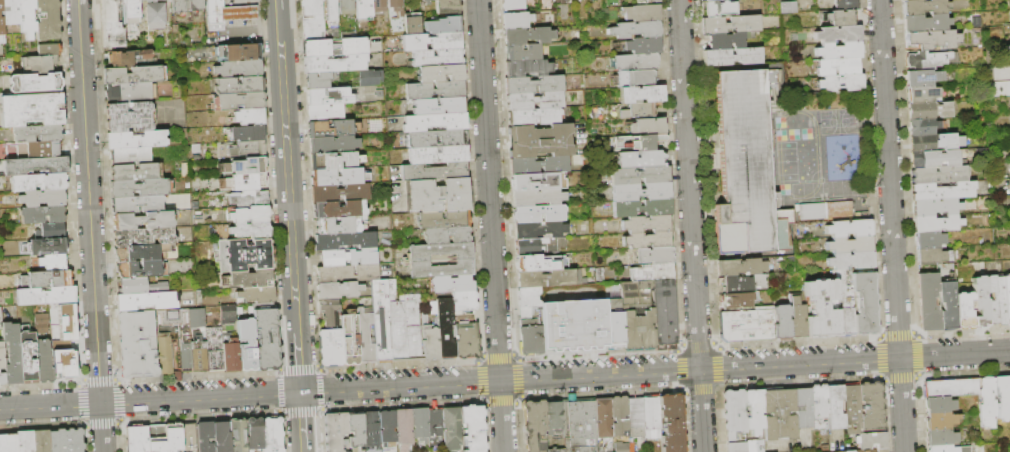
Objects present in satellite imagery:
building: (149, 0)
building: (527, 0)
building: (538, 0)
building: (592, 0)
building: (715, 0)
building: (561, 1)
building: (580, 1)
building: (649, 1)
building: (427, 2)
road: (277, 5)
building: (511, 5)
building: (846, 5)
building: (187, 6)
building: (379, 6)
building: (396, 6)
building: (447, 6)
building: (785, 6)
building: (347, 7)
building: (925, 7)
building: (718, 8)
building: (311, 9)
building: (363, 9)
building: (331, 10)
building: (12, 12)
building: (1009, 12)
building: (229, 13)
building: (641, 13)
building: (131, 14)
building: (156, 16)
building: (28, 18)
building: (842, 18)
building: (2, 19)
building: (48, 20)
building: (516, 20)
building: (926, 23)
building: (111, 24)
building: (732, 24)
building: (314, 25)
building: (413, 25)
building: (444, 26)
building: (635, 30)
building: (839, 34)
building: (314, 35)
building: (528, 36)
building: (728, 40)
building: (931, 41)
building: (432, 42)
building: (641, 45)
building: (335, 48)
building: (1008, 49)
building: (49, 50)
building: (839, 51)
building: (240, 52)
building: (523, 53)
building: (129, 57)
building: (732, 57)
building: (437, 58)
building: (929, 60)
building: (634, 62)
building: (334, 64)
building: (39, 65)
building: (838, 67)
building: (527, 68)
building: (239, 69)
building: (440, 73)
building: (134, 75)
building: (370, 78)
building: (635, 78)
building: (926, 78)
building: (318, 81)
building: (35, 83)
building: (841, 83)
building: (534, 84)
building: (239, 86)
building: (999, 87)
building: (435, 90)
building: (131, 92)
building: (642, 94)
building: (922, 94)
building: (329, 97)
building: (239, 101)
building: (535, 101)
building: (439, 106)
building: (32, 110)
building: (642, 110)
building: (929, 110)
building: (325, 112)
building: (249, 116)
building: (130, 117)
building: (535, 117)
building: (435, 122)
building: (648, 126)
building: (924, 127)
building: (331, 129)
building: (37, 133)
building: (248, 133)
building: (136, 140)
building: (419, 141)
building: (540, 141)
building: (641, 142)
building: (936, 142)
building: (333, 144)
building: (249, 149)
building: (43, 150)
building: (439, 155)
building: (131, 156)
building: (935, 158)
building: (641, 160)
building: (745, 160)
building: (334, 161)
building: (33, 164)
building: (247, 166)
building: (538, 166)
road: (287, 169)
building: (136, 172)
building: (435, 172)
building: (939, 175)
building: (640, 176)
building: (338, 177)
building: (38, 182)
building: (246, 182)
building: (537, 182)
building: (1009, 182)
building: (141, 188)
building: (841, 190)
building: (942, 191)
building: (641, 192)
building: (339, 193)
building: (808, 193)
building: (437, 196)
building: (537, 197)
building: (42, 198)
building: (250, 199)
building: (137, 205)
building: (936, 207)
building: (643, 208)
building: (339, 209)
building: (825, 210)
building: (42, 214)
building: (539, 214)
building: (251, 215)
building: (144, 220)
building: (443, 220)
building: (648, 224)
building: (937, 224)
road: (90, 225)
road: (690, 225)
building: (781, 225)
building: (338, 226)
road: (491, 226)
road: (891, 226)
building: (849, 228)
building: (251, 230)
building: (539, 230)
building: (50, 231)
building: (447, 235)
building: (144, 237)
building: (649, 240)
building: (930, 240)
building: (345, 241)
building: (851, 245)
building: (541, 246)
building: (47, 247)
building: (439, 251)
building: (142, 253)
building: (249, 255)
building: (652, 256)
building: (935, 256)
building: (347, 258)
building: (852, 261)
building: (50, 263)
building: (541, 263)
building: (740, 267)
building: (141, 269)
building: (439, 269)
building: (653, 272)
building: (347, 274)
building: (550, 278)
building: (47, 279)
building: (250, 279)
building: (744, 283)
building: (452, 284)
building: (142, 286)
building: (338, 290)
building: (636, 293)
building: (984, 293)
building: (257, 295)
building: (46, 296)
building: (529, 297)
building: (184, 298)
building: (1007, 299)
building: (739, 300)
building: (147, 301)
building: (465, 301)
building: (996, 301)
building: (928, 302)
building: (846, 303)
building: (948, 303)
building: (866, 304)
building: (822, 309)
building: (964, 311)
building: (329, 313)
building: (526, 313)
building: (228, 314)
building: (665, 314)
building: (797, 316)
building: (1, 319)
building: (42, 319)
building: (381, 322)
building: (397, 323)
building: (782, 323)
building: (614, 324)
building: (574, 325)
building: (747, 325)
building: (413, 326)
building: (446, 328)
building: (42, 329)
building: (639, 332)
building: (178, 334)
building: (365, 335)
building: (466, 335)
building: (267, 336)
building: (530, 338)
building: (199, 340)
building: (350, 340)
building: (430, 340)
building: (137, 345)
building: (247, 345)
building: (331, 348)
building: (215, 349)
building: (13, 354)
building: (2, 356)
building: (28, 356)
building: (167, 357)
building: (232, 358)
road: (297, 360)
building: (44, 362)
building: (67, 364)
building: (2, 379)
road: (504, 379)
building: (1009, 382)
building: (952, 388)
traffic signals: (300, 392)
building: (1002, 397)
building: (987, 402)
building: (939, 404)
building: (836, 407)
building: (871, 407)
building: (804, 408)
building: (819, 408)
building: (852, 409)
building: (755, 411)
building: (735, 412)
building: (779, 414)
building: (620, 417)
building: (636, 417)
building: (554, 418)
building: (604, 418)
building: (652, 418)
road: (301, 420)
building: (435, 421)
building: (941, 421)
building: (671, 422)
building: (420, 424)
building: (534, 425)
building: (579, 425)
building: (388, 428)
building: (404, 429)
building: (452, 429)
building: (472, 429)
building: (356, 430)
building: (371, 431)
building: (336, 432)
building: (254, 434)
building: (272, 435)
building: (238, 436)
building: (188, 437)
building: (205, 437)
building: (222, 437)
building: (940, 437)
building: (164, 438)
building: (137, 439)
building: (66, 440)
building: (25, 441)
building: (41, 441)
building: (871, 441)
building: (8, 443)
building: (747, 446)
building: (619, 447)
building: (948, 449)
road: (303, 450)
building: (863, 451)

